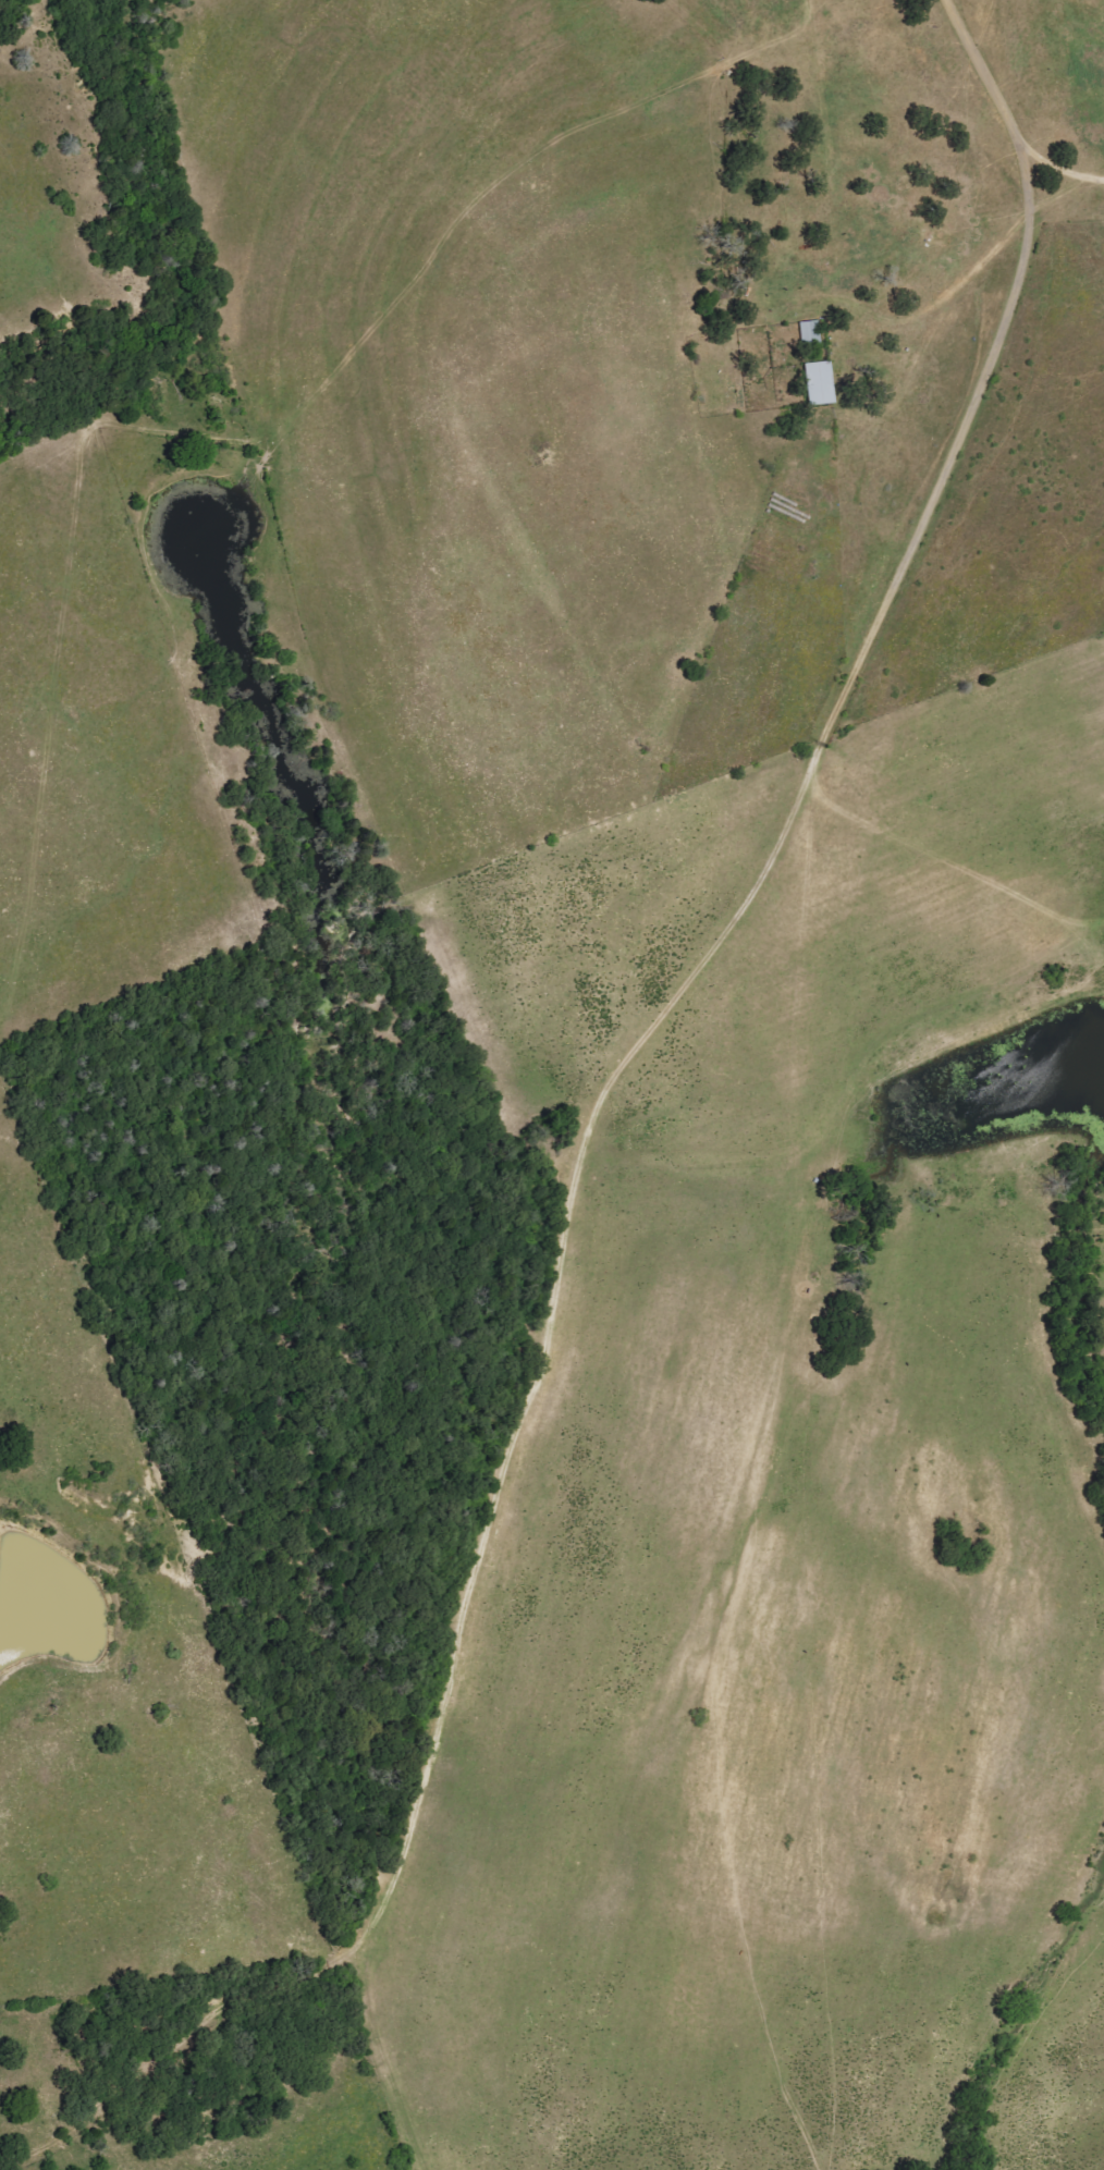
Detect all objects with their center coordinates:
road: (1001, 113)
building: (809, 332)
building: (817, 382)

